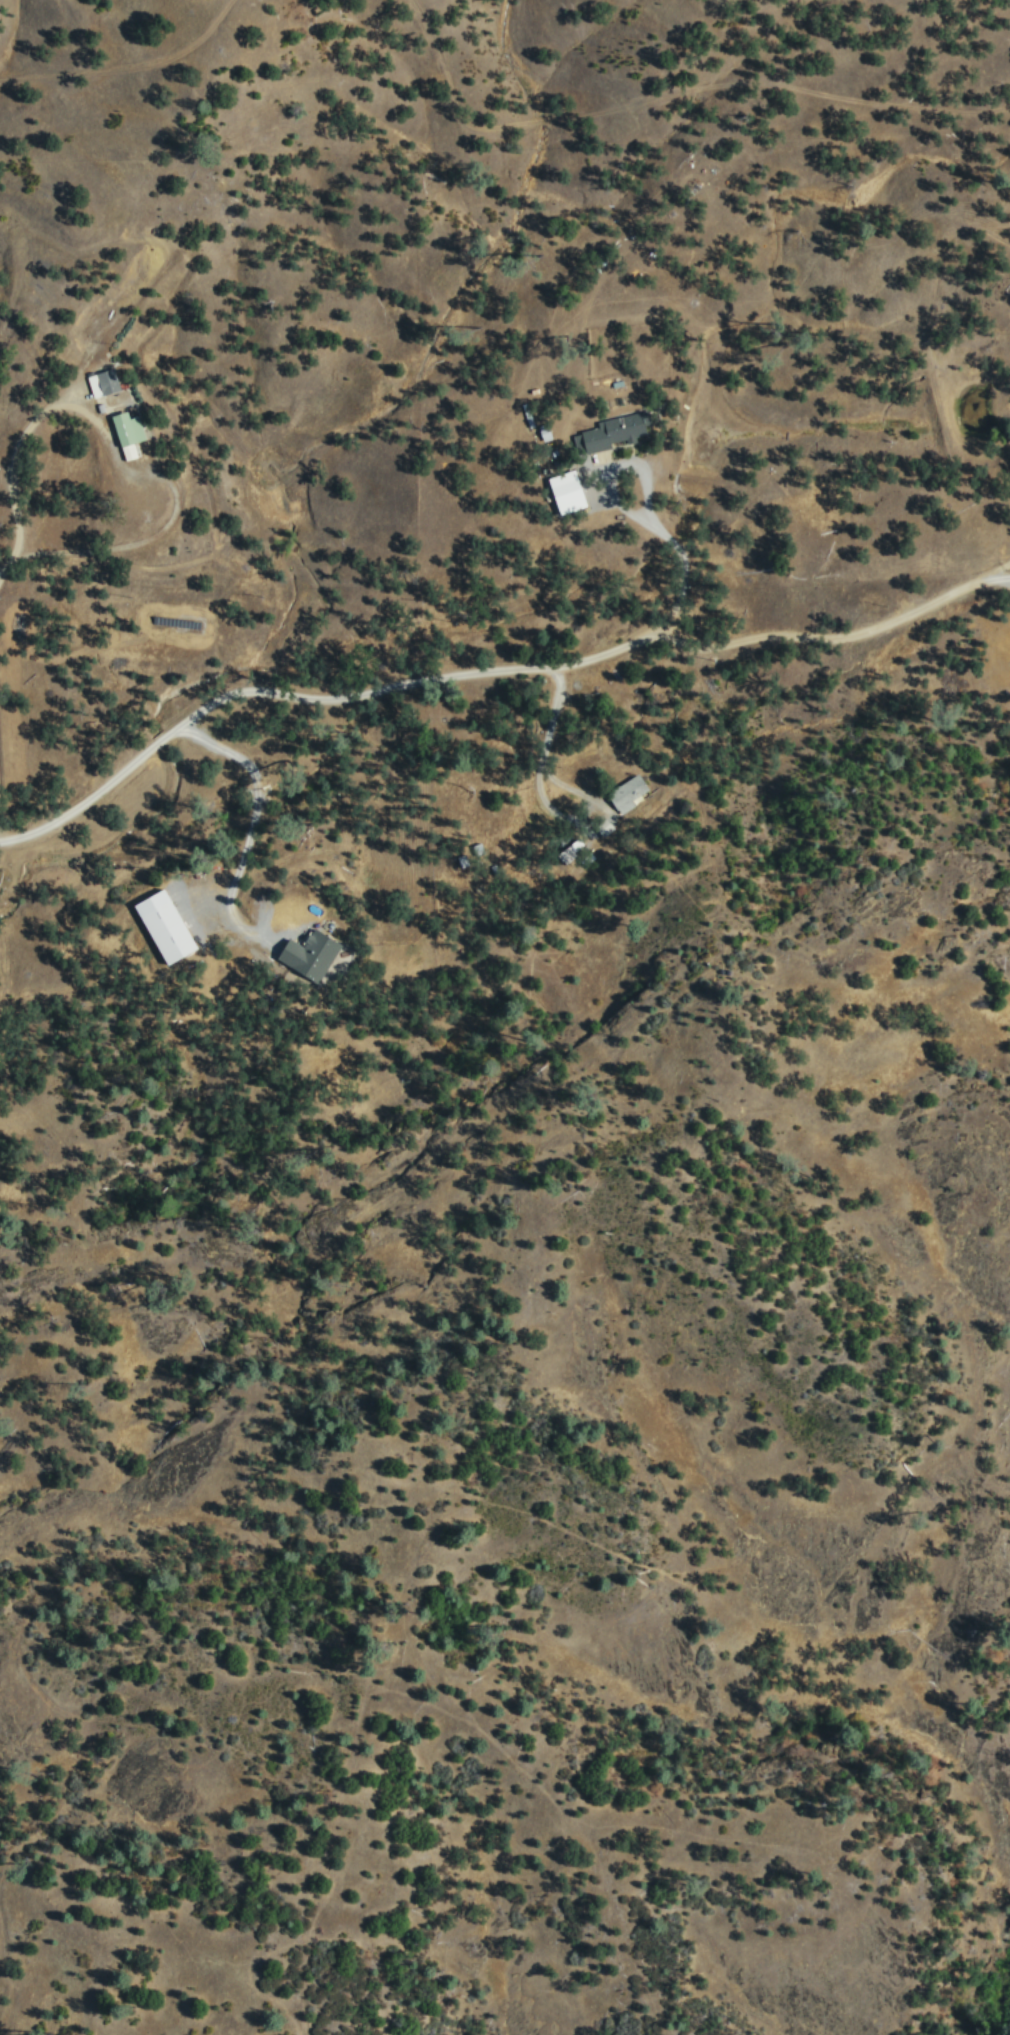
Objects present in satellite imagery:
road: (125, 65)
road: (670, 90)
building: (105, 382)
building: (544, 431)
building: (615, 431)
building: (131, 432)
road: (16, 499)
road: (487, 675)
building: (629, 792)
building: (170, 926)
building: (314, 954)

